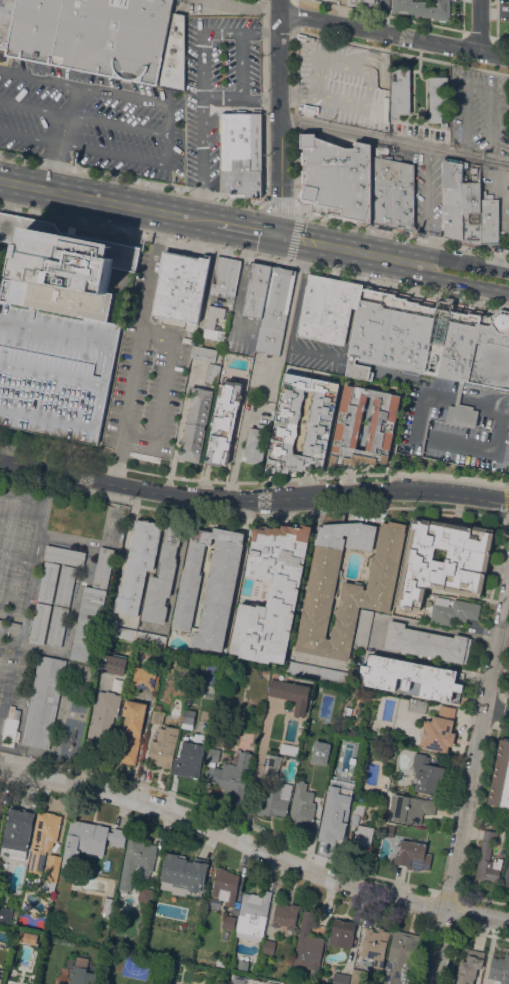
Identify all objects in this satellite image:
building: (365, 1)
building: (384, 4)
road: (245, 5)
building: (423, 9)
road: (479, 25)
road: (312, 31)
road: (393, 33)
building: (88, 35)
building: (303, 37)
building: (174, 56)
road: (240, 66)
parking lot: (343, 83)
road: (200, 85)
road: (83, 86)
parking lot: (217, 86)
building: (400, 92)
road: (239, 99)
building: (438, 100)
road: (264, 106)
building: (310, 110)
parking lot: (479, 111)
road: (67, 113)
road: (81, 116)
road: (166, 117)
road: (278, 118)
parking lot: (94, 121)
parking lot: (419, 132)
road: (30, 137)
road: (394, 140)
road: (167, 149)
road: (109, 152)
building: (241, 153)
road: (56, 167)
building: (336, 177)
road: (131, 179)
building: (381, 190)
parking lot: (428, 195)
building: (402, 196)
parking lot: (497, 197)
building: (452, 198)
road: (92, 199)
road: (426, 205)
building: (471, 211)
road: (199, 220)
road: (295, 220)
building: (489, 221)
road: (246, 229)
road: (402, 235)
traffic signals: (278, 236)
road: (300, 240)
road: (254, 255)
road: (377, 255)
building: (218, 274)
road: (470, 274)
road: (241, 275)
building: (231, 277)
building: (181, 285)
building: (256, 291)
building: (309, 305)
building: (322, 308)
building: (275, 309)
building: (347, 309)
building: (334, 310)
parking lot: (241, 319)
parking lot: (294, 321)
building: (440, 321)
building: (214, 324)
building: (371, 326)
building: (382, 328)
building: (58, 329)
parking lot: (58, 329)
building: (394, 331)
building: (406, 335)
building: (359, 336)
building: (421, 338)
building: (451, 343)
building: (467, 346)
road: (136, 348)
building: (492, 351)
building: (204, 354)
building: (433, 357)
fountain: (434, 361)
parking lot: (269, 363)
parking lot: (146, 369)
building: (212, 374)
road: (165, 391)
road: (458, 396)
road: (477, 399)
road: (496, 401)
building: (461, 411)
building: (223, 422)
building: (320, 423)
building: (196, 424)
building: (349, 424)
parking lot: (455, 427)
road: (441, 438)
building: (255, 444)
road: (57, 454)
road: (446, 476)
road: (248, 482)
road: (253, 499)
road: (129, 519)
building: (65, 555)
building: (138, 565)
building: (104, 567)
building: (443, 573)
building: (162, 578)
building: (48, 582)
building: (349, 582)
building: (66, 585)
building: (209, 586)
building: (272, 592)
building: (453, 611)
building: (42, 614)
building: (59, 617)
road: (425, 623)
building: (88, 624)
building: (363, 629)
building: (121, 632)
building: (38, 633)
building: (55, 635)
building: (150, 638)
building: (427, 642)
building: (112, 664)
building: (317, 672)
building: (408, 677)
building: (146, 678)
building: (224, 689)
building: (291, 693)
building: (44, 701)
building: (417, 705)
road: (498, 706)
building: (187, 716)
building: (100, 720)
building: (11, 726)
building: (132, 730)
building: (438, 730)
building: (163, 747)
building: (321, 752)
building: (191, 756)
building: (274, 760)
building: (228, 772)
building: (427, 775)
building: (500, 776)
road: (470, 790)
building: (361, 798)
building: (274, 800)
building: (1, 806)
building: (301, 806)
building: (410, 808)
building: (357, 812)
building: (333, 815)
building: (18, 828)
building: (84, 834)
building: (363, 836)
building: (118, 837)
building: (43, 838)
road: (253, 850)
building: (413, 855)
building: (488, 859)
building: (137, 861)
building: (52, 869)
building: (183, 872)
building: (506, 876)
building: (225, 885)
building: (145, 895)
building: (107, 906)
building: (5, 912)
building: (252, 914)
building: (285, 915)
building: (229, 921)
building: (342, 933)
building: (28, 937)
building: (308, 943)
building: (269, 947)
building: (374, 947)
building: (400, 958)
building: (469, 967)
building: (499, 970)
building: (0, 975)
building: (81, 975)
building: (357, 975)
building: (236, 978)
building: (340, 978)

